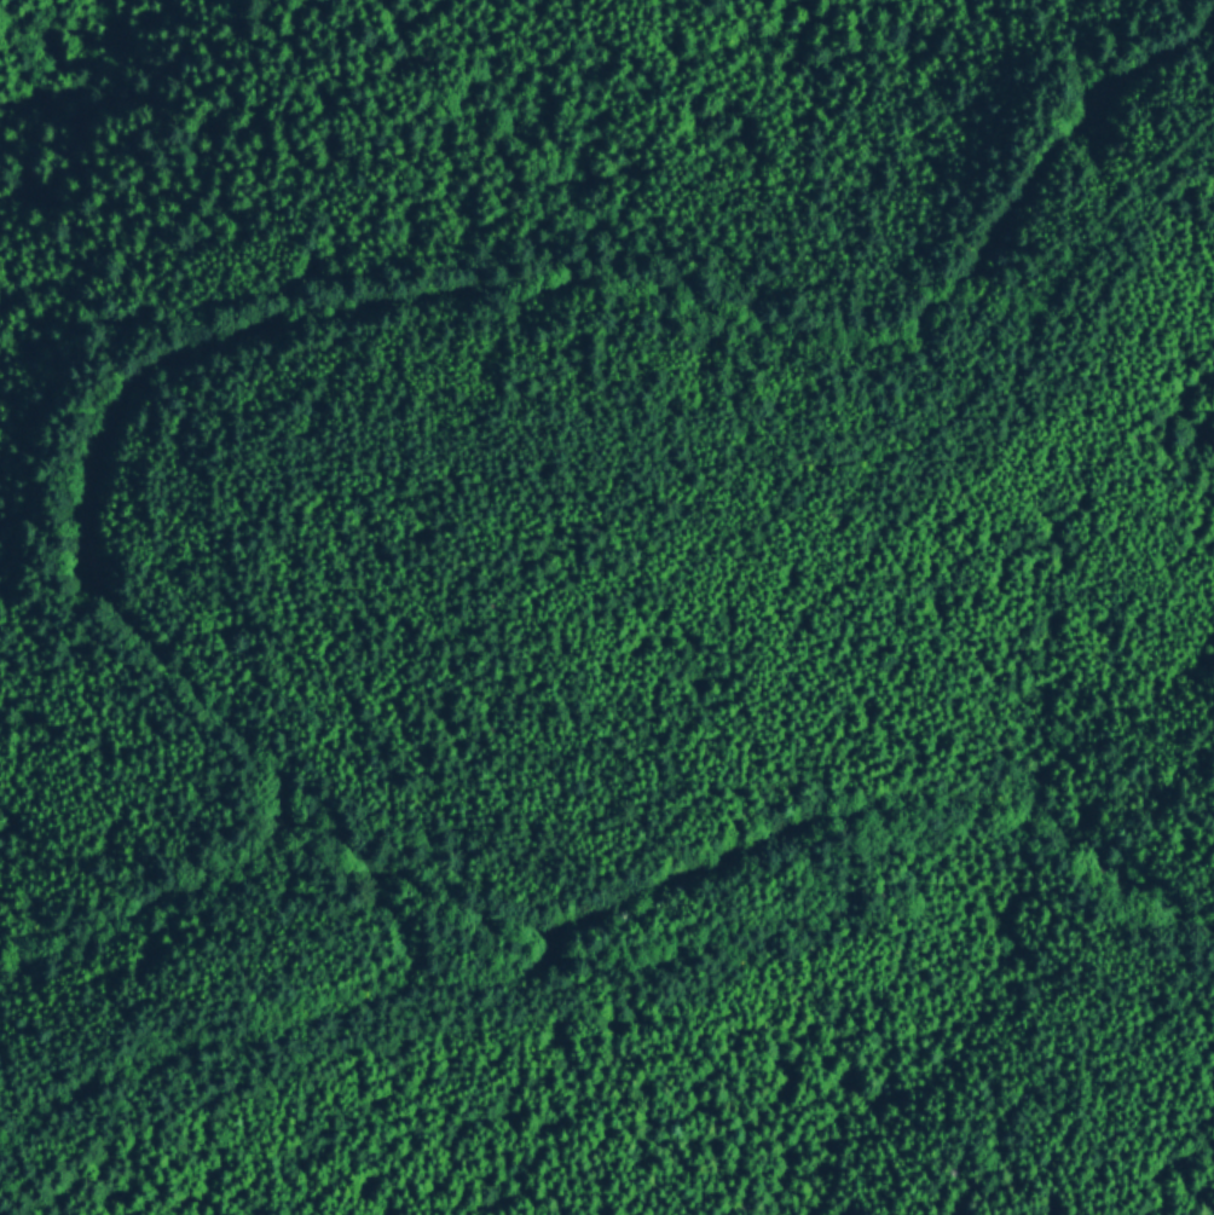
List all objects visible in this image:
road: (502, 294)
road: (742, 855)
road: (160, 895)
road: (499, 982)
road: (264, 1032)

